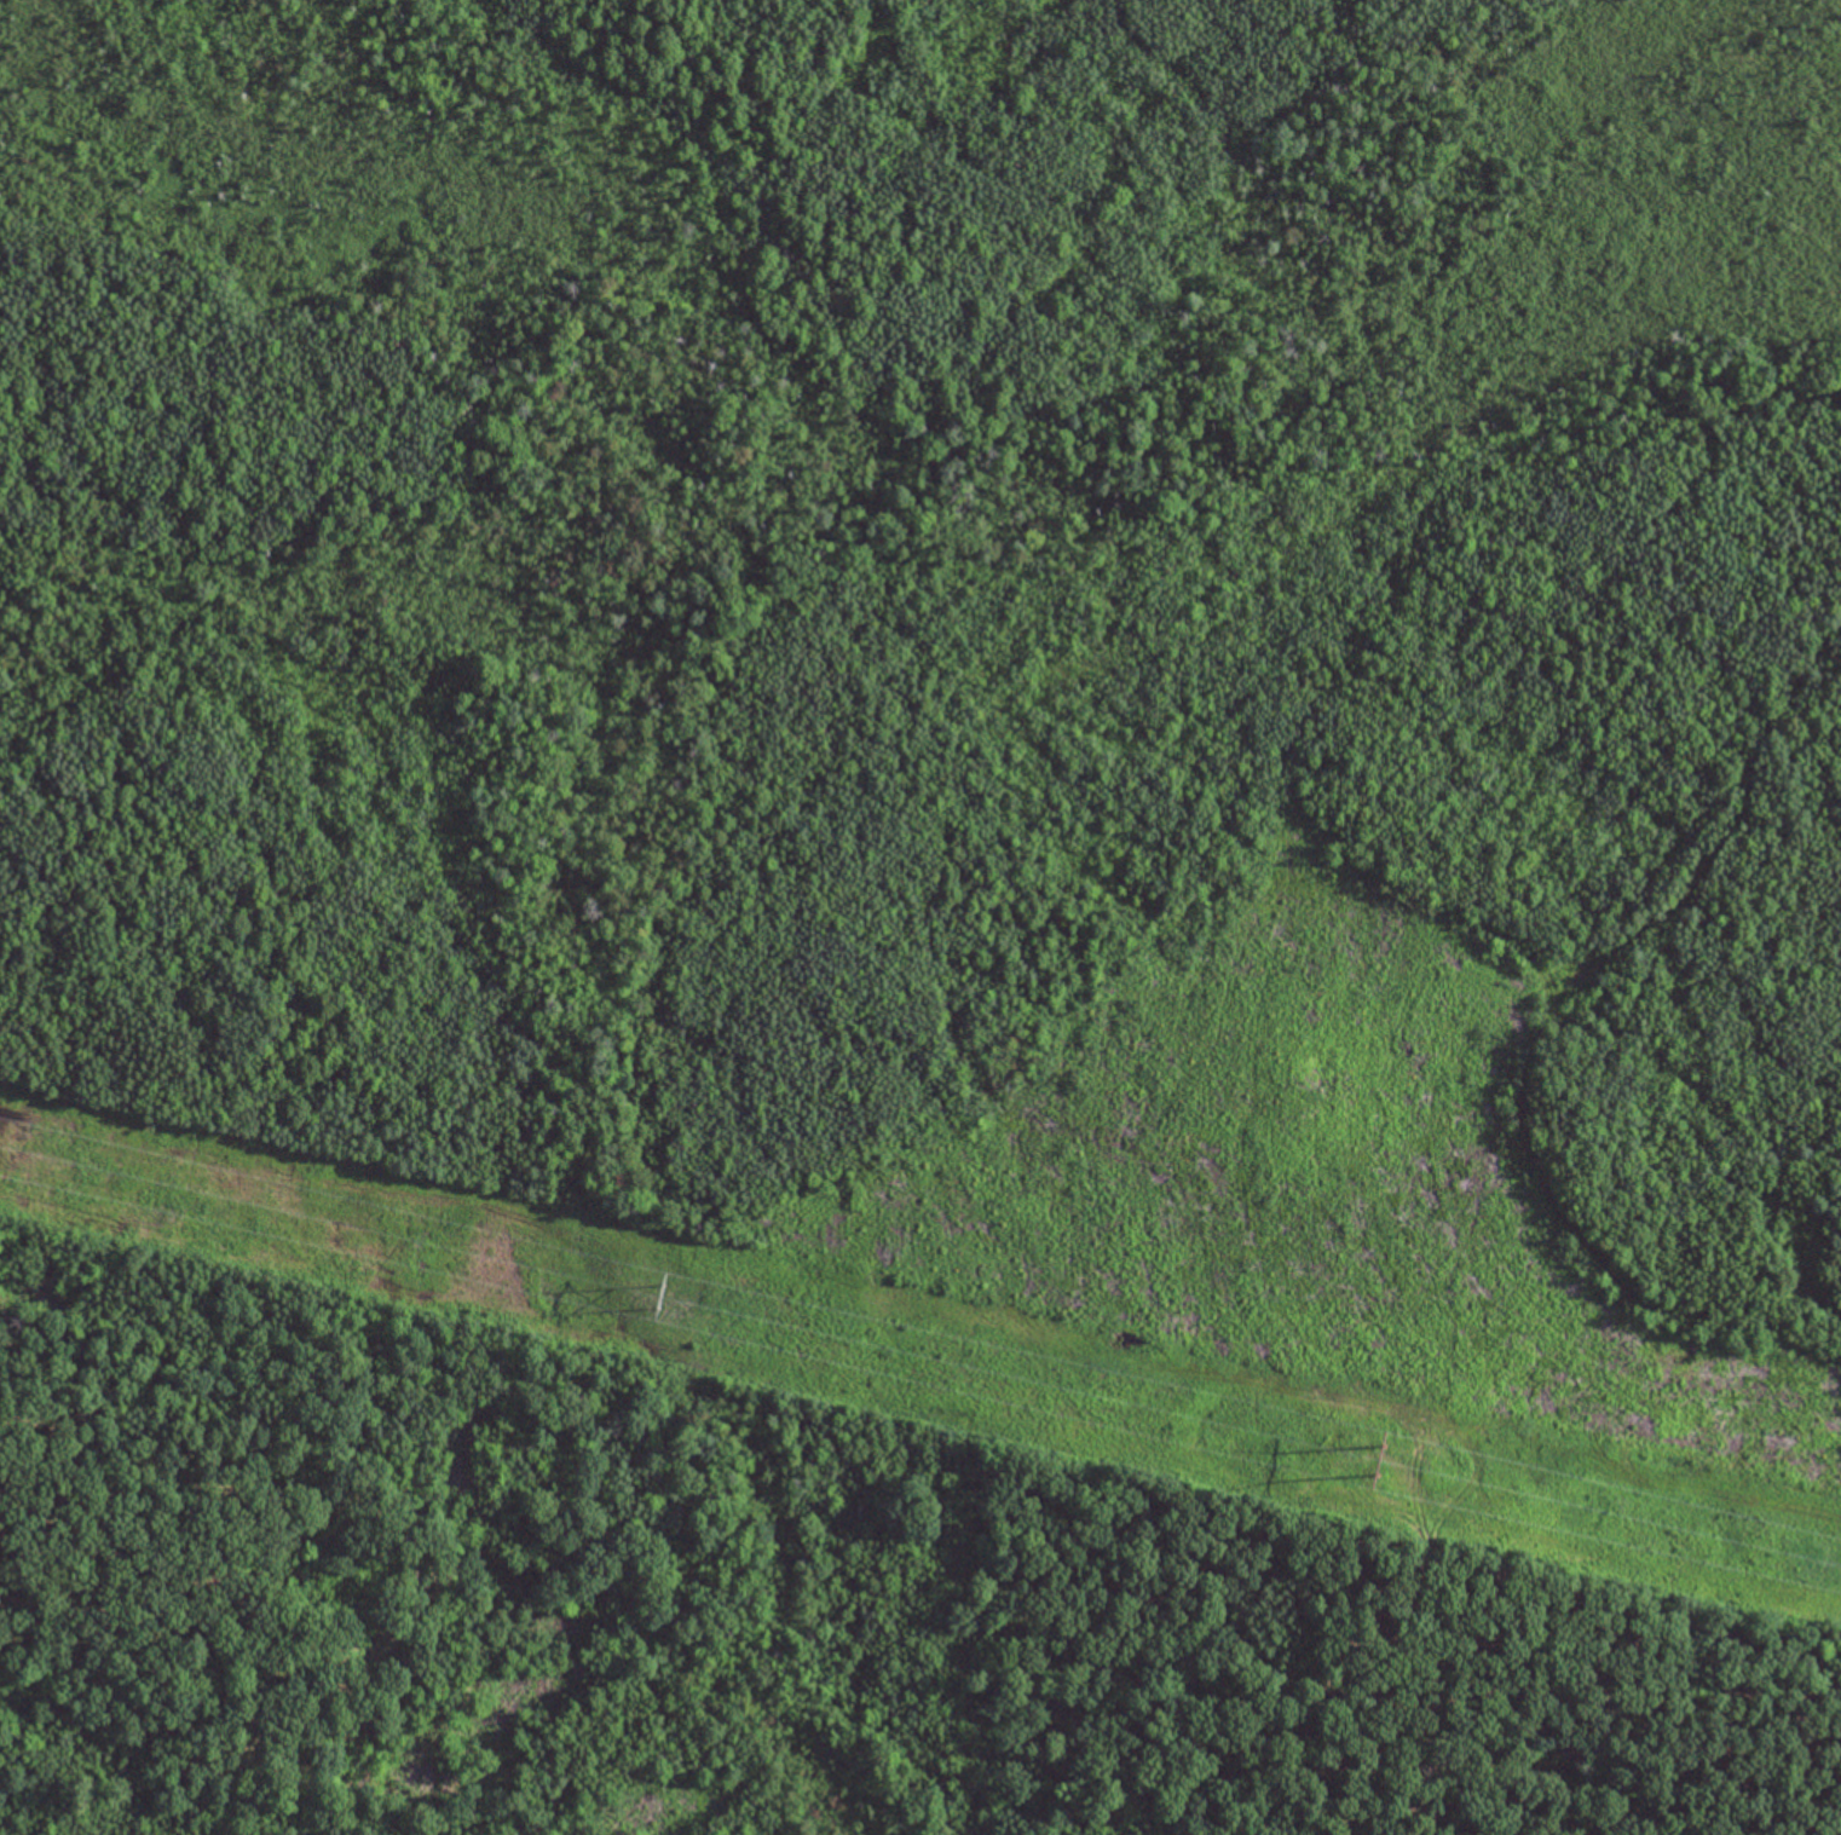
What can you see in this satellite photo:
power tower: (664, 1298)
power tower: (1380, 1464)

